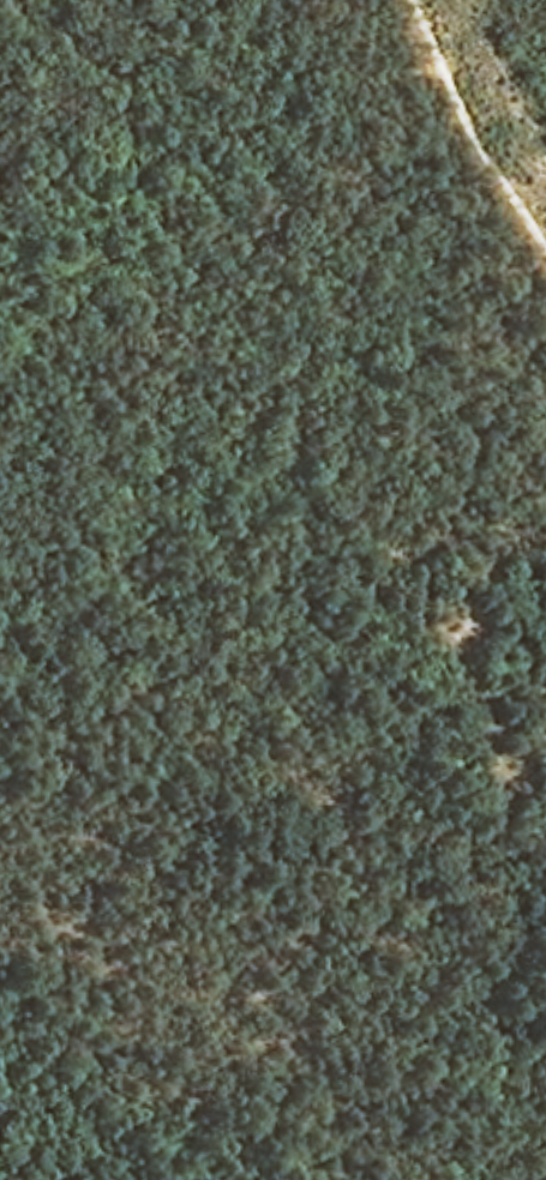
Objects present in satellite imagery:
road: (518, 94)

